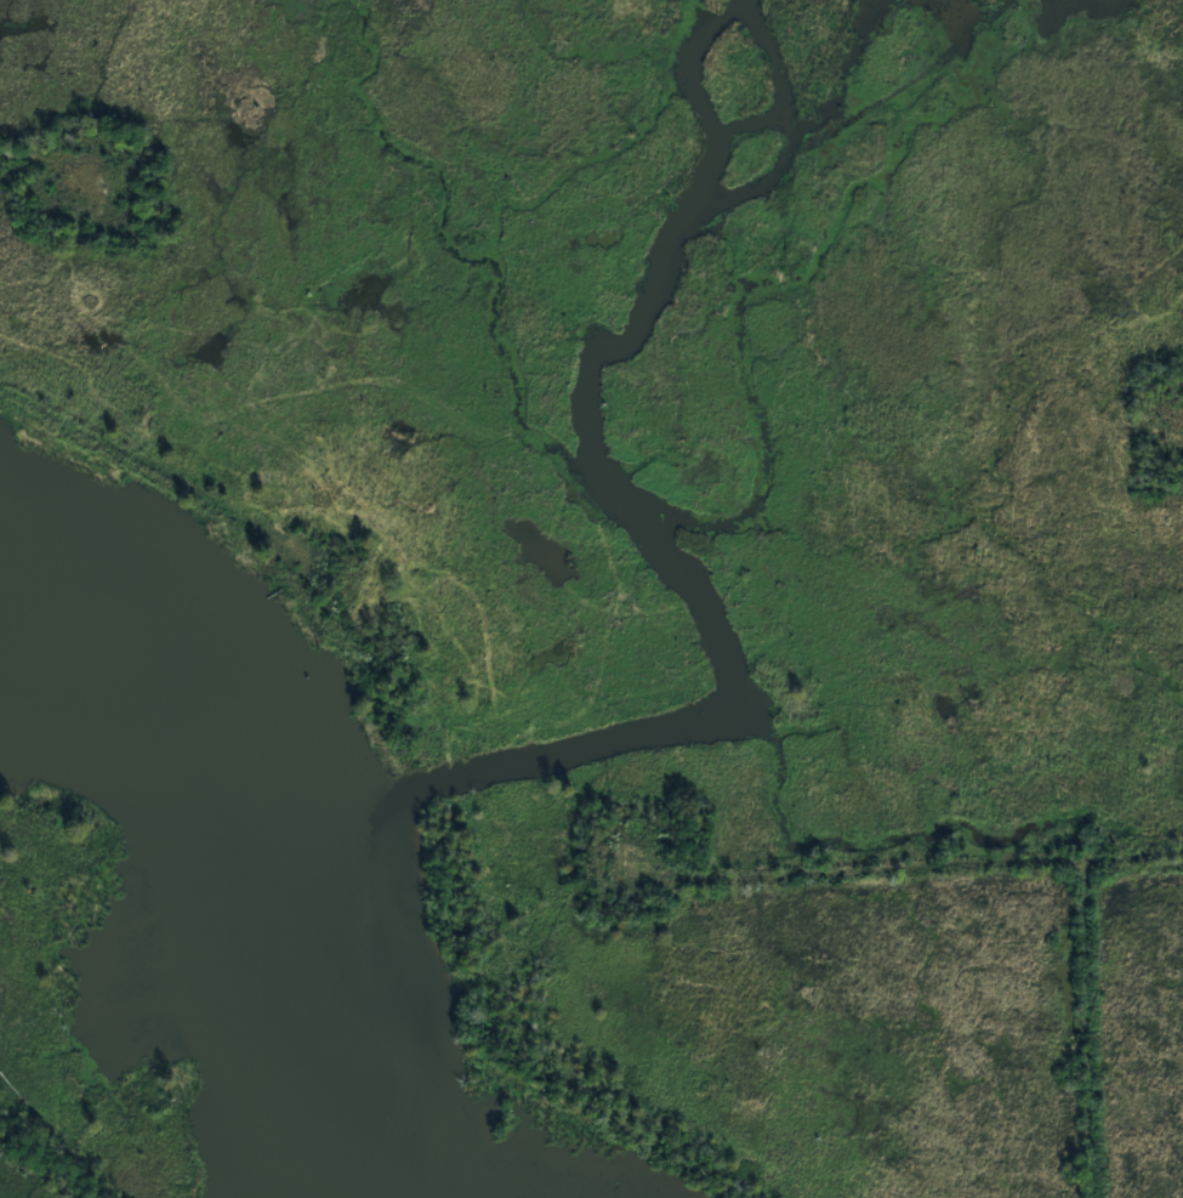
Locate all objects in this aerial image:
road: (67, 158)
road: (1176, 431)
road: (159, 469)
river: (258, 844)
road: (871, 871)
road: (1086, 1030)

